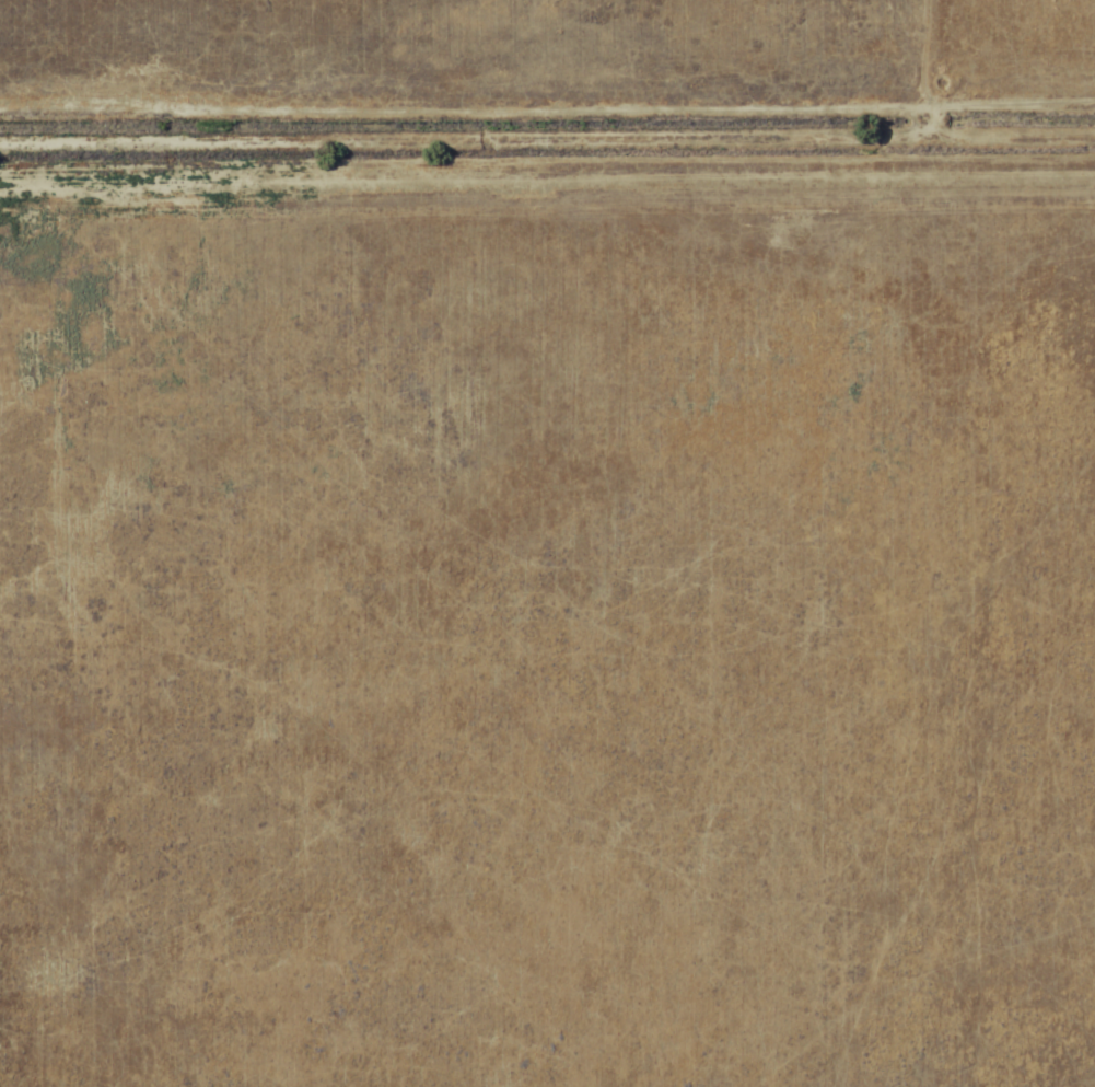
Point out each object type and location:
road: (451, 66)
road: (966, 537)

